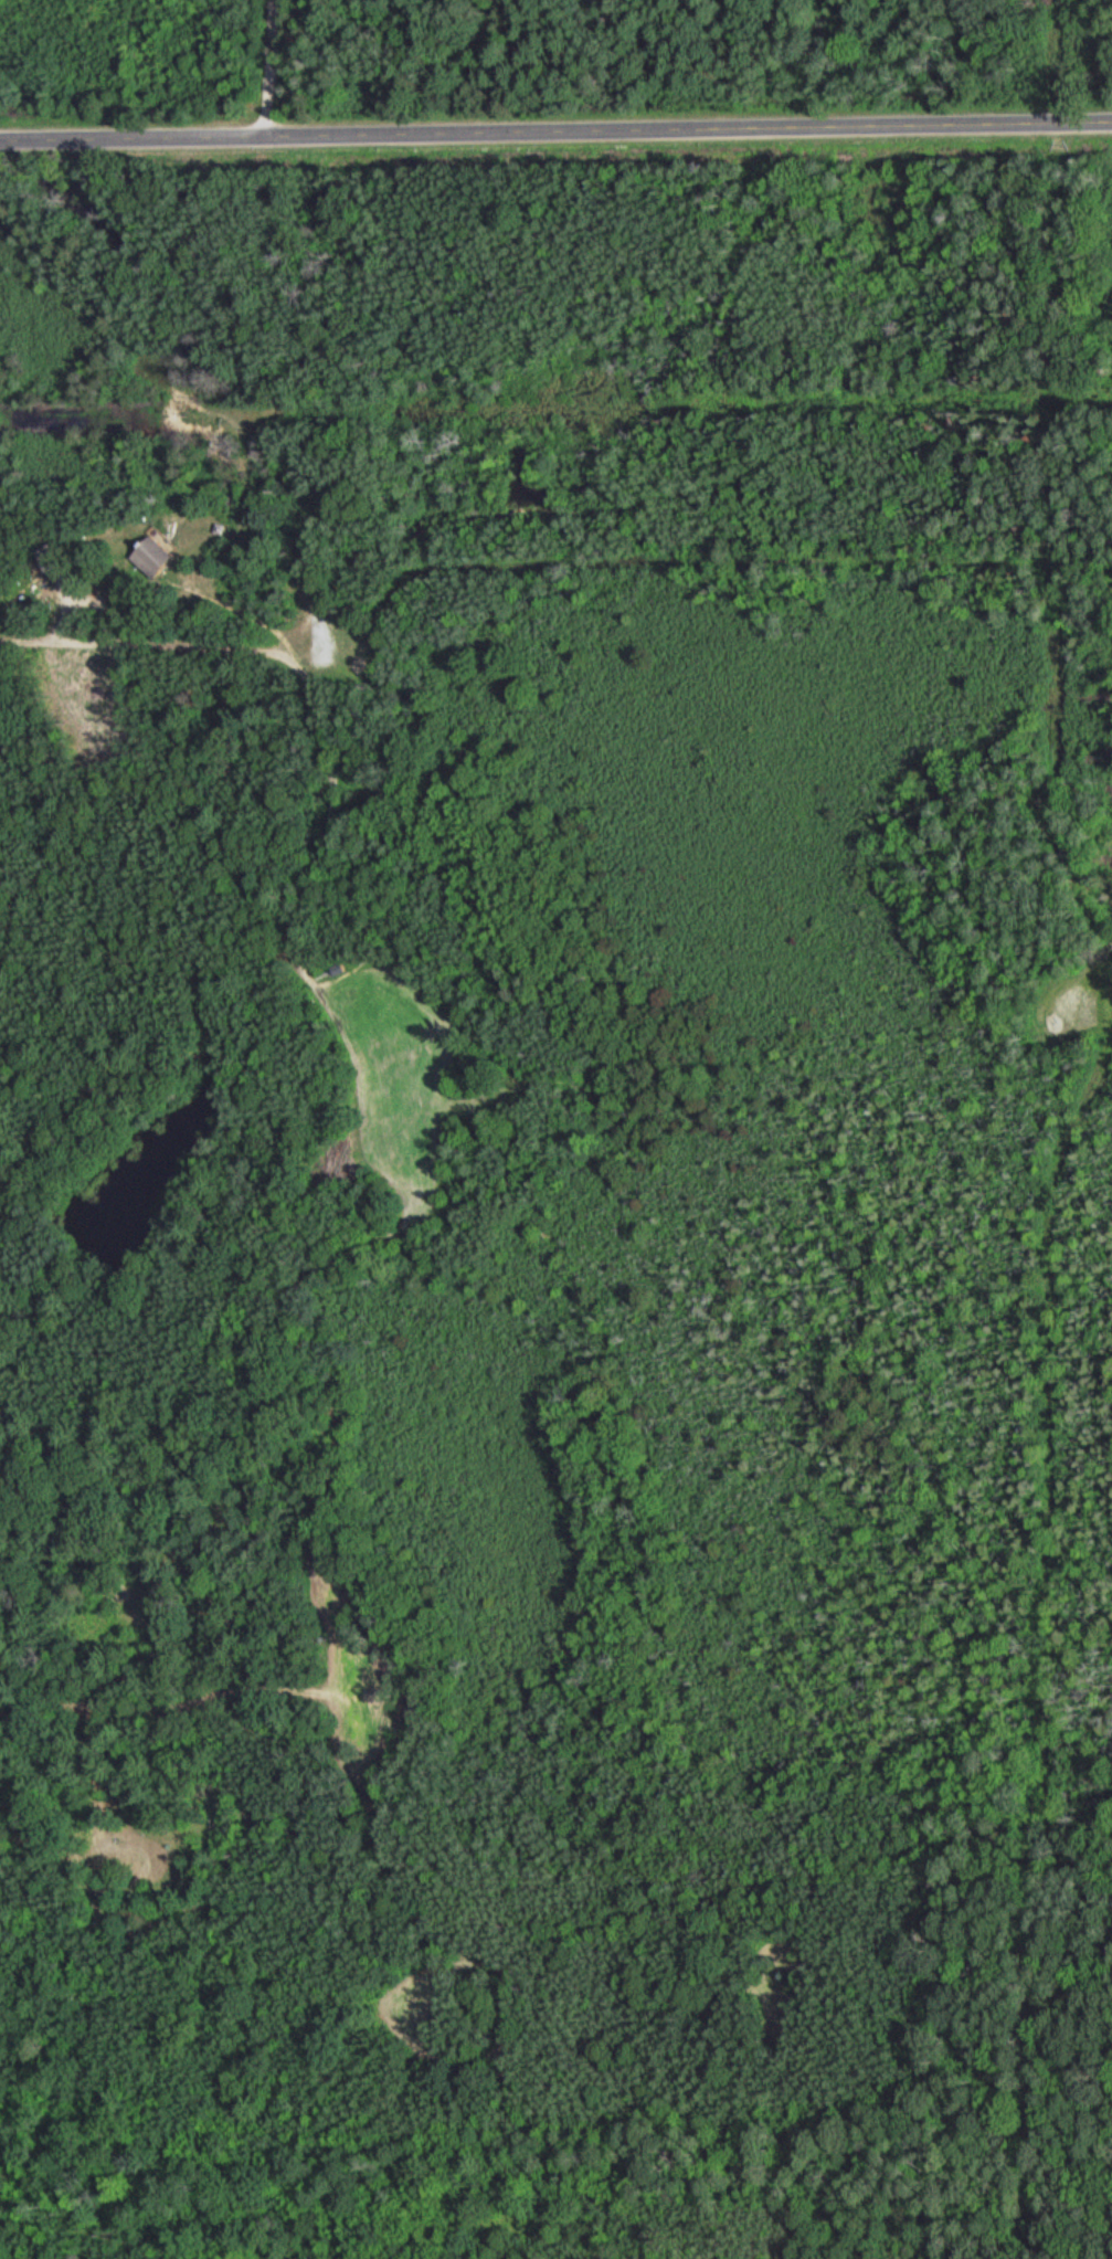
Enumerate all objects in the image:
road: (272, 67)
road: (555, 131)
building: (148, 557)
building: (45, 559)
road: (186, 647)
road: (1089, 984)
building: (136, 1938)

